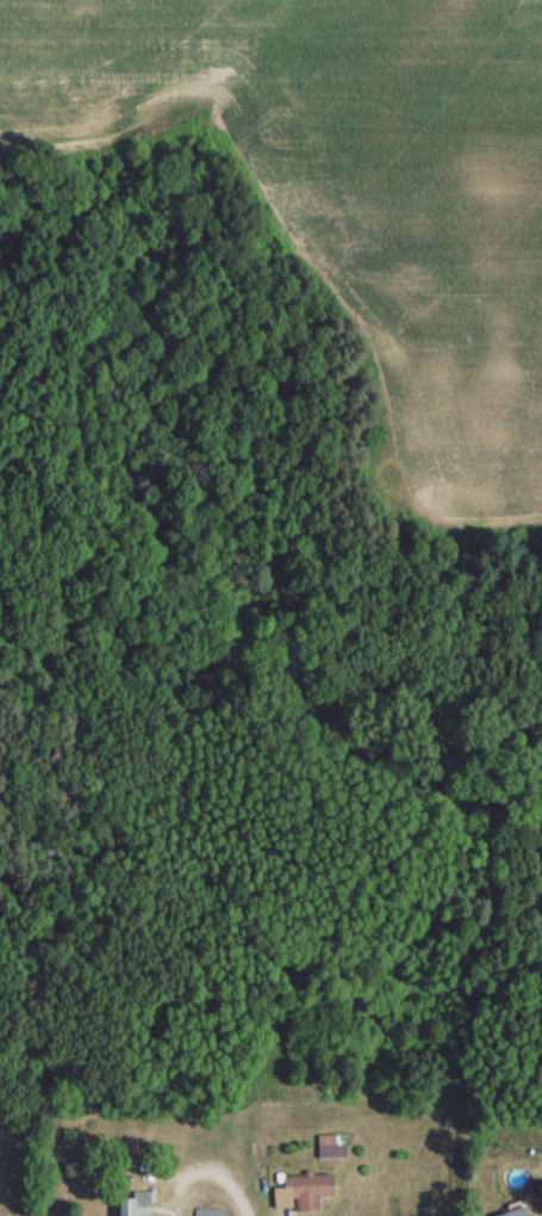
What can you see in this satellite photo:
building: (328, 1155)
road: (200, 1173)
building: (301, 1197)
building: (132, 1206)
building: (206, 1215)
building: (523, 1215)

